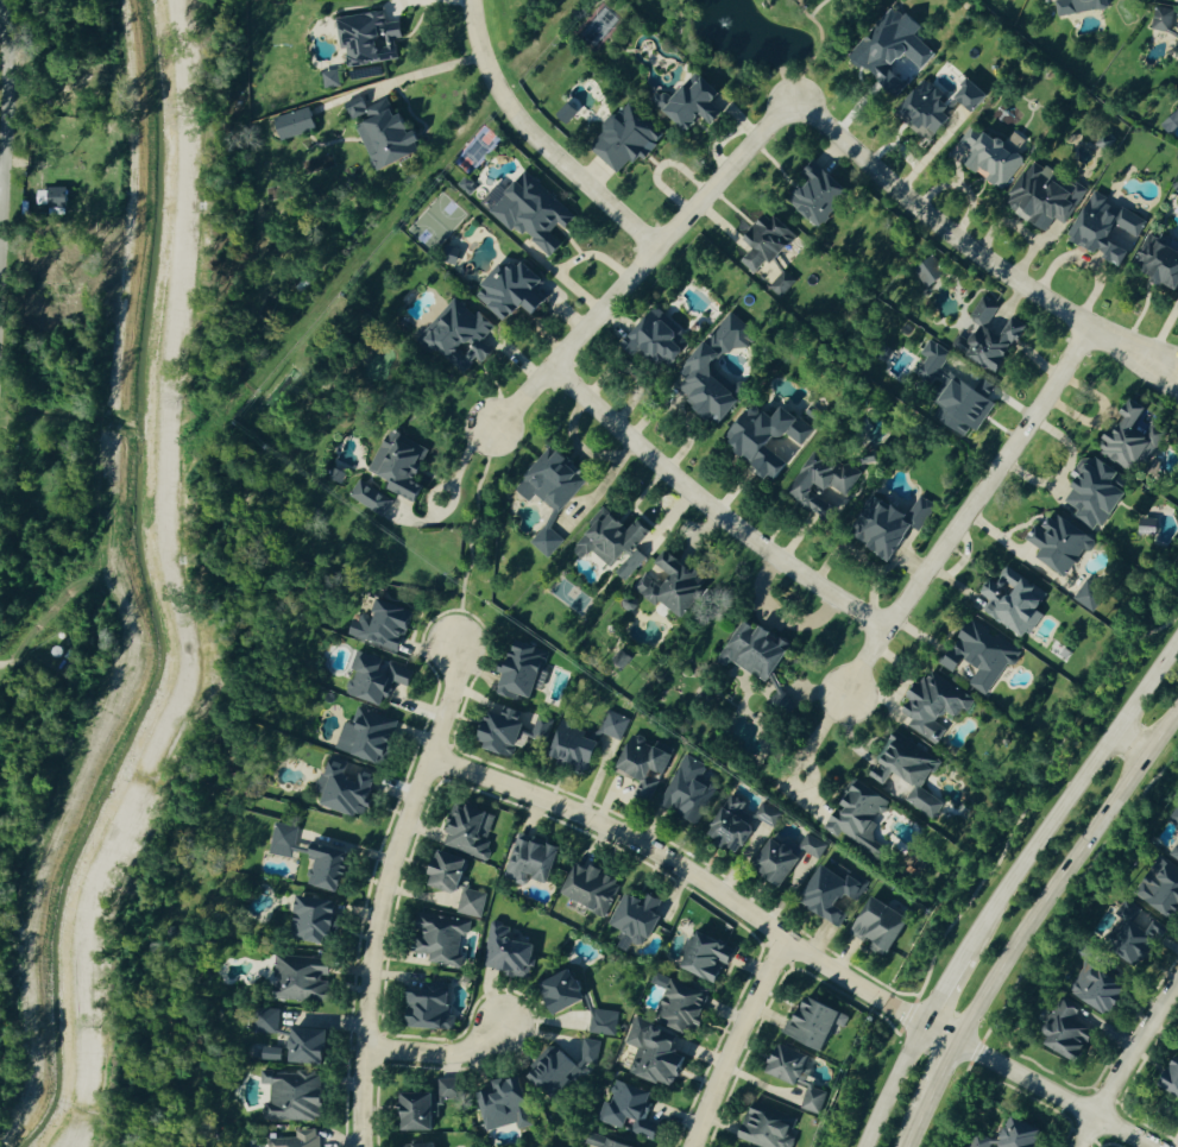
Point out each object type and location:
building: (1075, 7)
building: (1164, 24)
building: (372, 38)
park: (760, 39)
building: (886, 51)
building: (334, 78)
building: (697, 103)
building: (931, 107)
road: (5, 111)
building: (1168, 122)
building: (300, 124)
building: (388, 131)
building: (628, 139)
road: (537, 140)
building: (983, 158)
road: (1, 172)
building: (817, 196)
building: (61, 197)
building: (1042, 200)
building: (536, 214)
building: (1101, 231)
road: (952, 238)
building: (770, 242)
building: (456, 251)
road: (643, 265)
building: (783, 285)
building: (518, 290)
building: (462, 332)
building: (985, 336)
building: (659, 340)
road: (1153, 357)
building: (928, 360)
building: (708, 363)
road: (1152, 374)
building: (957, 408)
building: (773, 437)
building: (1123, 440)
building: (404, 466)
building: (336, 475)
building: (555, 480)
building: (820, 486)
road: (451, 492)
building: (1088, 493)
building: (370, 498)
road: (708, 510)
road: (965, 512)
building: (883, 525)
building: (549, 542)
building: (617, 543)
building: (1054, 546)
building: (678, 585)
park: (569, 595)
building: (1084, 599)
building: (1008, 603)
building: (388, 626)
building: (758, 651)
building: (975, 656)
building: (527, 672)
building: (379, 678)
building: (927, 706)
building: (615, 725)
building: (516, 727)
building: (371, 735)
road: (1132, 743)
building: (579, 746)
building: (647, 758)
road: (805, 761)
building: (913, 774)
building: (650, 784)
building: (352, 787)
building: (691, 789)
road: (1069, 795)
building: (770, 814)
building: (862, 818)
building: (737, 824)
building: (474, 830)
building: (285, 839)
building: (814, 846)
building: (1172, 852)
building: (534, 859)
building: (781, 861)
building: (332, 869)
building: (453, 871)
road: (1067, 875)
building: (594, 887)
road: (383, 890)
building: (1167, 891)
building: (836, 893)
building: (472, 902)
building: (642, 915)
building: (319, 918)
building: (883, 926)
building: (1142, 933)
building: (445, 938)
road: (792, 946)
building: (510, 952)
building: (705, 957)
building: (304, 978)
building: (1101, 984)
building: (568, 989)
road: (940, 989)
building: (434, 1004)
building: (269, 1020)
building: (606, 1021)
building: (820, 1022)
building: (1072, 1031)
building: (670, 1033)
road: (733, 1042)
building: (314, 1045)
building: (593, 1051)
building: (272, 1053)
road: (439, 1055)
road: (1127, 1063)
building: (557, 1070)
building: (802, 1076)
road: (941, 1076)
building: (1173, 1079)
road: (890, 1084)
building: (451, 1089)
building: (296, 1095)
building: (509, 1104)
building: (632, 1108)
building: (422, 1110)
building: (771, 1126)
road: (914, 1128)
building: (1026, 1134)
building: (300, 1140)
building: (605, 1141)
building: (983, 1141)
building: (429, 1145)

